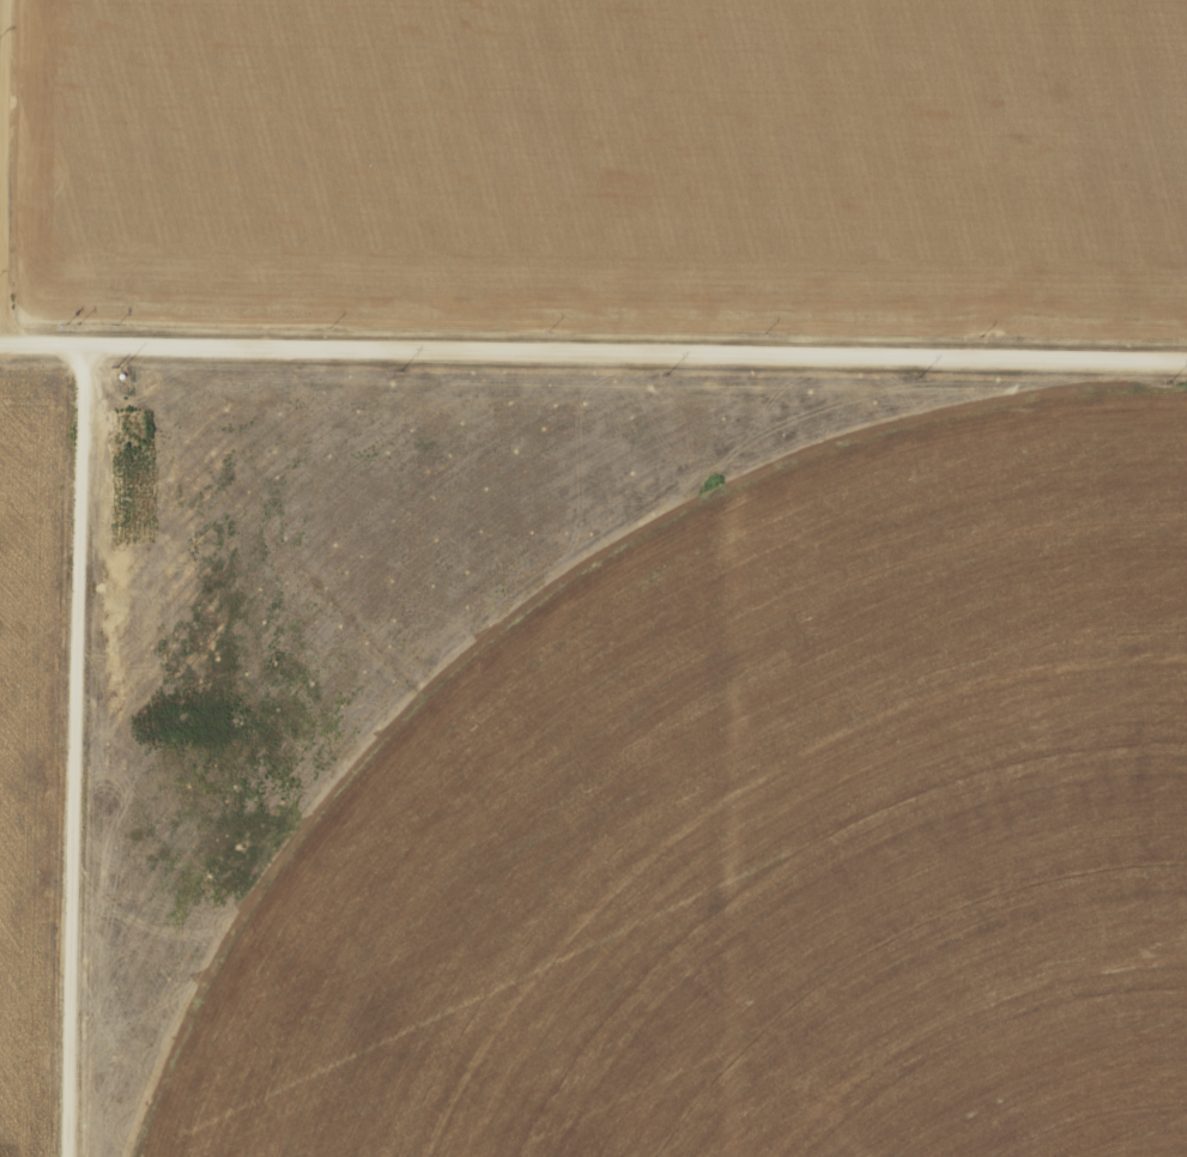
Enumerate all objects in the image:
road: (593, 356)
road: (72, 752)

